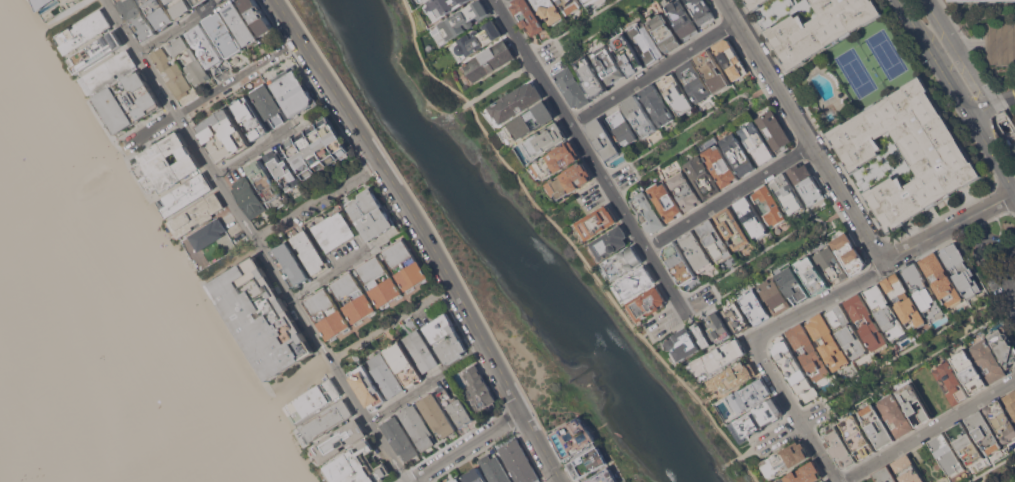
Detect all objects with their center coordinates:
building: (423, 0)
building: (587, 1)
building: (199, 2)
road: (500, 2)
building: (43, 4)
building: (571, 5)
building: (180, 7)
building: (442, 7)
building: (550, 10)
road: (66, 11)
building: (701, 11)
building: (158, 12)
building: (256, 16)
building: (528, 16)
building: (137, 18)
building: (681, 18)
road: (951, 18)
building: (463, 19)
building: (240, 23)
building: (810, 23)
park: (590, 30)
road: (31, 31)
building: (83, 31)
building: (663, 32)
road: (168, 34)
building: (223, 34)
building: (476, 40)
building: (645, 42)
road: (290, 43)
building: (1000, 43)
building: (205, 45)
building: (97, 50)
building: (626, 53)
park: (886, 54)
road: (142, 56)
building: (730, 58)
building: (488, 61)
building: (195, 63)
building: (607, 64)
road: (33, 67)
road: (972, 69)
building: (712, 70)
building: (108, 71)
building: (171, 72)
road: (654, 73)
park: (855, 73)
building: (591, 77)
road: (230, 81)
building: (693, 81)
road: (498, 84)
building: (571, 87)
building: (293, 91)
building: (676, 93)
road: (960, 95)
road: (1004, 99)
building: (127, 101)
building: (516, 101)
building: (657, 104)
building: (269, 105)
road: (982, 108)
building: (639, 115)
building: (250, 117)
road: (695, 120)
building: (526, 122)
building: (621, 127)
road: (154, 128)
building: (774, 131)
building: (223, 135)
park: (689, 135)
building: (603, 138)
road: (698, 138)
building: (544, 140)
building: (756, 143)
road: (117, 146)
building: (316, 147)
road: (253, 150)
building: (903, 153)
building: (738, 154)
road: (592, 159)
building: (557, 160)
building: (167, 163)
road: (372, 165)
building: (720, 165)
building: (282, 169)
road: (633, 169)
building: (702, 177)
building: (264, 179)
building: (570, 181)
building: (806, 183)
building: (683, 189)
road: (842, 192)
building: (185, 194)
building: (787, 194)
road: (728, 196)
building: (248, 197)
building: (665, 201)
road: (309, 203)
road: (580, 203)
park: (579, 204)
building: (769, 205)
building: (648, 212)
building: (370, 214)
building: (196, 215)
building: (751, 217)
building: (597, 222)
building: (733, 228)
building: (333, 231)
building: (208, 234)
road: (426, 235)
building: (715, 240)
road: (571, 242)
building: (609, 242)
road: (773, 243)
road: (153, 249)
road: (993, 251)
building: (309, 252)
building: (697, 252)
building: (849, 253)
building: (382, 256)
park: (763, 259)
road: (775, 261)
road: (231, 262)
building: (622, 262)
building: (290, 263)
building: (679, 263)
building: (831, 263)
building: (405, 264)
building: (961, 269)
building: (356, 272)
road: (329, 274)
building: (811, 274)
building: (379, 280)
building: (941, 280)
road: (436, 281)
building: (635, 282)
building: (793, 285)
road: (447, 286)
building: (330, 289)
road: (713, 289)
building: (922, 290)
building: (774, 295)
road: (292, 297)
building: (353, 297)
road: (821, 300)
building: (903, 301)
building: (647, 303)
building: (755, 306)
building: (884, 311)
building: (327, 313)
building: (737, 317)
building: (261, 318)
building: (866, 322)
road: (385, 325)
building: (718, 326)
building: (440, 328)
road: (666, 332)
building: (847, 332)
building: (702, 334)
road: (237, 338)
building: (827, 341)
building: (682, 344)
building: (1004, 344)
building: (452, 348)
building: (421, 350)
building: (808, 352)
building: (718, 357)
building: (988, 360)
building: (790, 363)
building: (404, 364)
building: (969, 371)
road: (306, 375)
building: (386, 375)
building: (733, 377)
building: (950, 382)
building: (367, 387)
building: (479, 389)
road: (856, 389)
road: (277, 393)
building: (749, 395)
road: (402, 399)
building: (313, 400)
building: (1011, 401)
building: (914, 404)
building: (455, 407)
road: (795, 411)
building: (436, 414)
building: (895, 415)
building: (759, 416)
building: (326, 420)
building: (1001, 420)
building: (417, 426)
building: (877, 426)
road: (927, 430)
building: (984, 432)
building: (858, 436)
building: (399, 437)
building: (573, 437)
road: (282, 440)
building: (338, 440)
building: (965, 443)
road: (463, 446)
building: (840, 447)
building: (947, 454)
building: (785, 458)
building: (519, 462)
building: (588, 462)
building: (358, 465)
building: (494, 469)
building: (907, 469)
building: (804, 474)
building: (885, 474)
road: (1001, 474)
building: (475, 475)
building: (603, 476)
building: (454, 479)
road: (555, 480)
building: (461, 481)
building: (826, 481)

